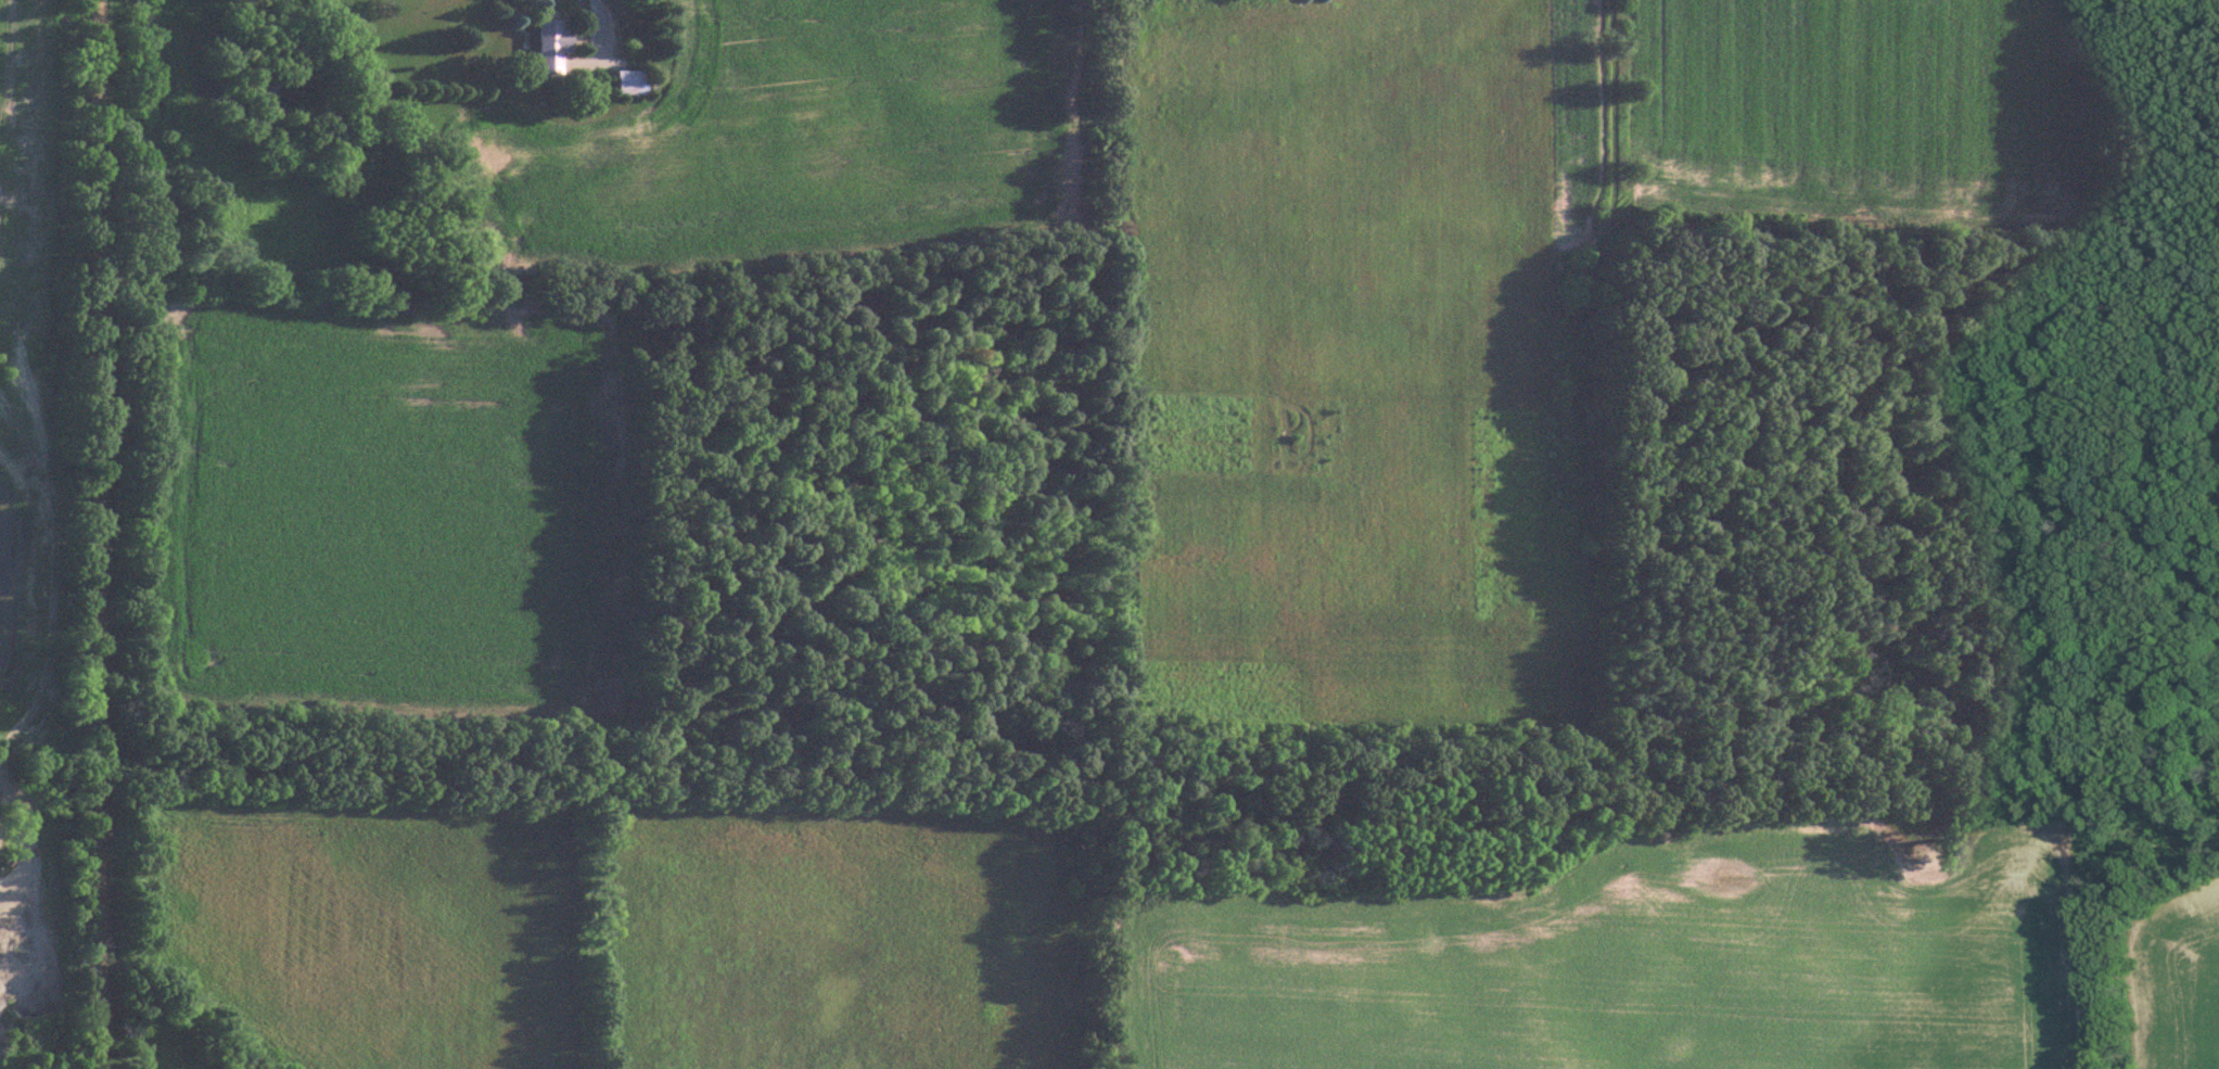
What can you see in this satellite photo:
road: (598, 14)
building: (545, 42)
building: (625, 79)
road: (101, 534)

